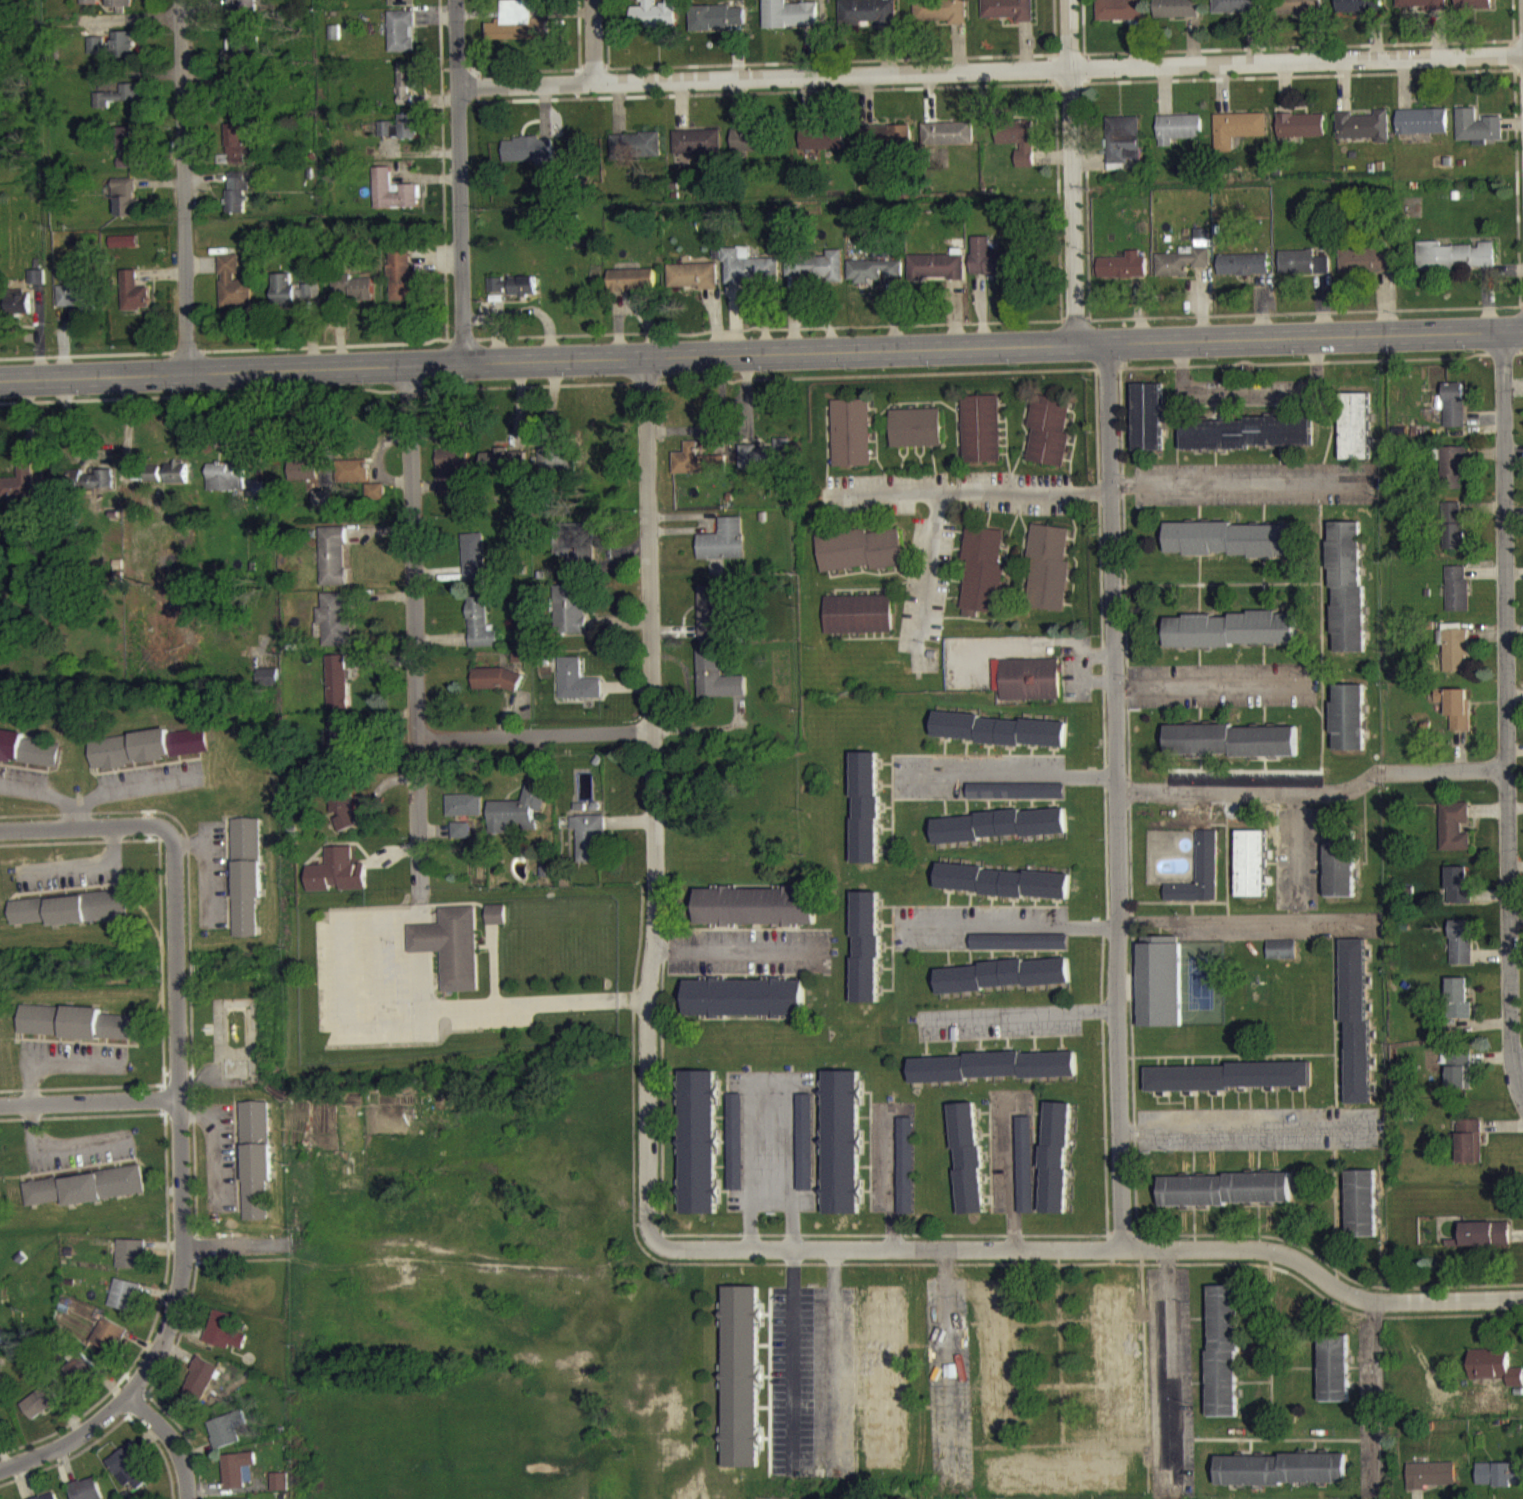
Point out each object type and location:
building: (88, 6)
building: (401, 7)
building: (243, 8)
building: (1420, 8)
building: (119, 9)
building: (1473, 9)
building: (1236, 11)
building: (1357, 11)
building: (1299, 12)
building: (1009, 15)
building: (1176, 15)
building: (1120, 16)
building: (941, 18)
building: (654, 21)
building: (868, 21)
building: (790, 22)
building: (717, 27)
building: (517, 32)
road: (1069, 34)
road: (592, 40)
building: (401, 41)
road: (1298, 45)
building: (112, 53)
road: (1510, 53)
building: (234, 60)
road: (1087, 66)
road: (990, 70)
road: (1299, 74)
building: (406, 91)
building: (129, 101)
building: (105, 109)
building: (1422, 119)
building: (1300, 123)
building: (1362, 123)
building: (1177, 125)
building: (1476, 125)
building: (1236, 126)
building: (1301, 134)
building: (399, 136)
building: (948, 143)
building: (823, 147)
building: (885, 147)
building: (1016, 148)
building: (749, 149)
building: (697, 150)
building: (1124, 152)
building: (237, 153)
building: (635, 155)
building: (128, 156)
building: (528, 159)
road: (459, 181)
road: (182, 186)
building: (392, 201)
building: (236, 202)
road: (1072, 206)
building: (127, 207)
building: (123, 251)
building: (1455, 265)
building: (992, 268)
building: (1365, 270)
building: (1181, 271)
building: (1302, 272)
building: (1243, 274)
building: (813, 275)
building: (747, 276)
building: (936, 276)
building: (1122, 276)
building: (873, 280)
building: (401, 284)
building: (693, 285)
building: (36, 286)
building: (631, 289)
building: (234, 293)
building: (498, 294)
building: (523, 295)
building: (352, 297)
building: (292, 300)
building: (133, 301)
building: (76, 305)
building: (19, 312)
road: (761, 354)
road: (1249, 384)
building: (1454, 414)
road: (128, 423)
building: (1148, 426)
building: (1356, 435)
building: (916, 437)
building: (981, 438)
building: (1048, 440)
building: (851, 442)
building: (1245, 442)
building: (761, 464)
building: (503, 468)
building: (557, 469)
building: (696, 470)
building: (1451, 476)
building: (302, 477)
building: (351, 480)
building: (449, 480)
building: (176, 482)
road: (1240, 482)
building: (225, 487)
road: (966, 491)
building: (92, 492)
building: (20, 493)
building: (374, 501)
building: (1451, 521)
building: (1454, 546)
building: (1231, 549)
building: (577, 550)
building: (723, 550)
building: (860, 559)
building: (332, 565)
building: (473, 566)
road: (927, 569)
building: (1048, 578)
building: (982, 580)
building: (1347, 595)
building: (1457, 598)
building: (570, 618)
building: (713, 619)
building: (859, 624)
building: (334, 629)
road: (414, 632)
building: (480, 632)
building: (1231, 639)
building: (1454, 659)
road: (1214, 685)
building: (267, 686)
building: (718, 686)
building: (496, 689)
building: (1030, 689)
building: (577, 690)
building: (337, 691)
building: (1456, 717)
road: (1509, 717)
building: (1349, 727)
road: (535, 734)
building: (1000, 739)
building: (339, 747)
building: (1230, 750)
building: (146, 757)
building: (28, 759)
road: (1010, 774)
road: (1314, 791)
road: (1117, 795)
road: (93, 796)
road: (654, 798)
building: (1016, 800)
building: (465, 814)
road: (75, 815)
building: (867, 817)
building: (343, 820)
building: (518, 821)
road: (89, 831)
building: (1000, 835)
building: (1454, 836)
building: (461, 840)
building: (590, 847)
road: (80, 865)
building: (1252, 873)
building: (1340, 875)
building: (337, 881)
building: (246, 884)
building: (1199, 888)
building: (1004, 891)
building: (1458, 894)
road: (420, 910)
building: (496, 911)
parking lot: (365, 913)
parking lot: (334, 914)
building: (70, 918)
road: (1251, 918)
road: (390, 922)
building: (496, 924)
road: (354, 926)
road: (1007, 927)
road: (420, 935)
road: (402, 937)
building: (451, 943)
road: (741, 950)
building: (1020, 951)
building: (1461, 951)
building: (867, 956)
parking lot: (321, 959)
building: (1282, 959)
road: (494, 963)
parking lot: (388, 973)
road: (375, 974)
road: (336, 975)
parking lot: (362, 975)
parking lot: (350, 976)
road: (422, 978)
building: (1004, 985)
parking lot: (402, 988)
building: (1160, 991)
road: (536, 1002)
building: (747, 1007)
building: (1459, 1007)
road: (1021, 1012)
parking lot: (323, 1015)
parking lot: (490, 1019)
road: (383, 1021)
building: (1356, 1031)
building: (76, 1032)
parking lot: (424, 1033)
parking lot: (367, 1034)
road: (1517, 1063)
building: (995, 1076)
road: (772, 1077)
building: (1460, 1080)
building: (1228, 1086)
road: (89, 1097)
road: (29, 1107)
road: (180, 1116)
road: (1241, 1128)
building: (700, 1151)
building: (737, 1151)
building: (807, 1151)
building: (843, 1151)
building: (1470, 1151)
road: (1008, 1164)
building: (1056, 1167)
building: (256, 1168)
building: (969, 1168)
road: (889, 1170)
building: (1026, 1174)
building: (907, 1175)
building: (85, 1196)
building: (1226, 1199)
building: (1362, 1213)
road: (230, 1243)
building: (1485, 1243)
road: (1089, 1245)
building: (130, 1263)
building: (124, 1304)
building: (223, 1340)
building: (108, 1344)
road: (943, 1351)
road: (830, 1353)
building: (0, 1354)
road: (788, 1355)
building: (1224, 1360)
road: (1170, 1368)
building: (1495, 1376)
building: (83, 1378)
building: (1335, 1379)
building: (742, 1386)
building: (200, 1388)
road: (1378, 1393)
building: (39, 1411)
road: (65, 1426)
building: (227, 1438)
road: (166, 1441)
building: (129, 1478)
building: (238, 1479)
building: (1282, 1479)
building: (1431, 1484)
building: (1500, 1485)
building: (280, 1490)
building: (86, 1494)

